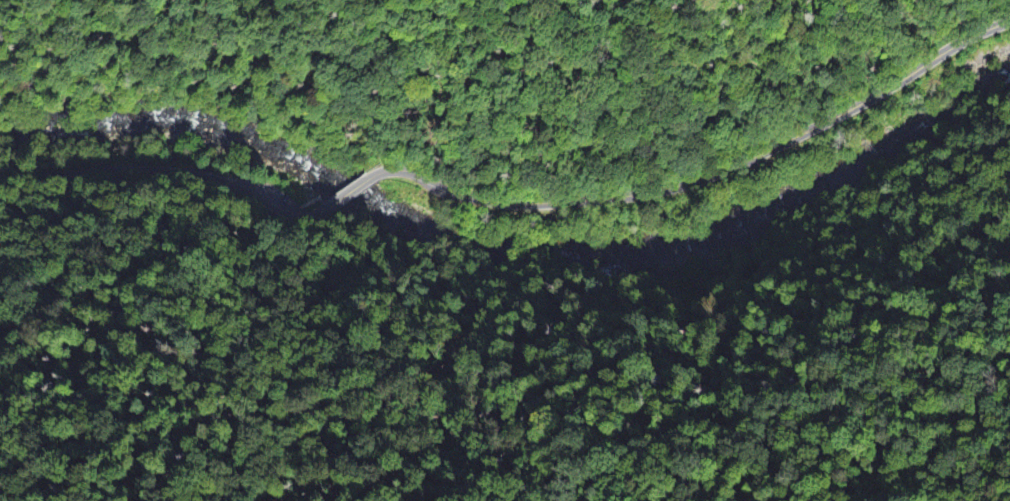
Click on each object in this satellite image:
road: (163, 172)
road: (705, 177)
road: (344, 197)
river: (504, 250)

